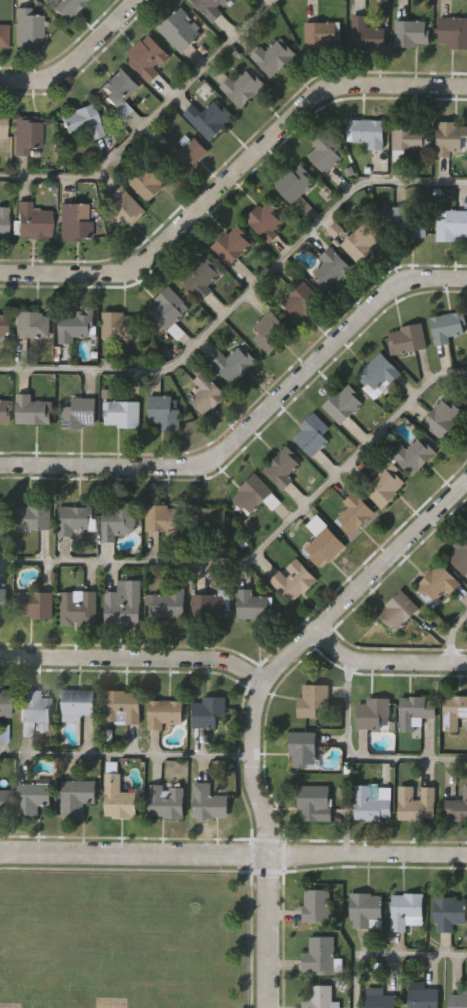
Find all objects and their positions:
building: (63, 7)
building: (210, 8)
building: (27, 26)
building: (179, 30)
building: (411, 33)
building: (452, 33)
building: (319, 34)
building: (365, 34)
building: (3, 35)
building: (146, 57)
building: (272, 57)
road: (77, 58)
building: (241, 86)
building: (118, 91)
building: (208, 118)
road: (150, 119)
building: (81, 121)
building: (2, 124)
building: (366, 132)
building: (25, 134)
building: (408, 136)
building: (449, 138)
building: (323, 151)
building: (187, 156)
road: (232, 175)
building: (147, 182)
building: (294, 183)
building: (123, 206)
building: (30, 220)
building: (264, 220)
building: (2, 221)
building: (73, 221)
building: (409, 223)
building: (451, 226)
building: (354, 239)
building: (231, 245)
building: (330, 268)
building: (201, 277)
road: (241, 298)
building: (299, 302)
building: (168, 312)
building: (31, 324)
building: (118, 325)
building: (2, 326)
building: (74, 326)
building: (447, 327)
building: (269, 332)
building: (406, 339)
building: (231, 365)
building: (377, 376)
building: (206, 395)
building: (343, 404)
building: (31, 410)
building: (3, 412)
building: (80, 413)
building: (162, 413)
building: (121, 414)
building: (442, 418)
road: (253, 421)
building: (311, 436)
building: (413, 455)
building: (281, 468)
building: (383, 486)
building: (251, 494)
building: (352, 515)
building: (34, 517)
building: (161, 519)
building: (75, 520)
building: (3, 521)
building: (116, 521)
building: (207, 521)
road: (264, 545)
building: (323, 547)
building: (459, 556)
building: (292, 581)
building: (437, 585)
building: (2, 603)
building: (122, 604)
building: (166, 605)
building: (33, 606)
building: (250, 606)
building: (206, 607)
building: (77, 609)
building: (398, 611)
road: (451, 635)
road: (135, 656)
road: (386, 663)
building: (311, 700)
building: (3, 703)
road: (257, 703)
building: (77, 704)
building: (32, 706)
building: (121, 707)
building: (415, 711)
building: (207, 712)
building: (453, 712)
building: (164, 713)
building: (372, 714)
building: (302, 749)
road: (126, 756)
road: (358, 759)
building: (31, 797)
building: (75, 797)
building: (116, 797)
building: (165, 801)
building: (2, 802)
building: (208, 802)
building: (415, 802)
building: (313, 803)
building: (371, 804)
building: (455, 808)
road: (233, 853)
building: (315, 905)
building: (364, 911)
building: (405, 911)
building: (448, 913)
road: (389, 955)
building: (318, 956)
building: (318, 997)
building: (422, 998)
building: (458, 1000)
building: (379, 1001)

